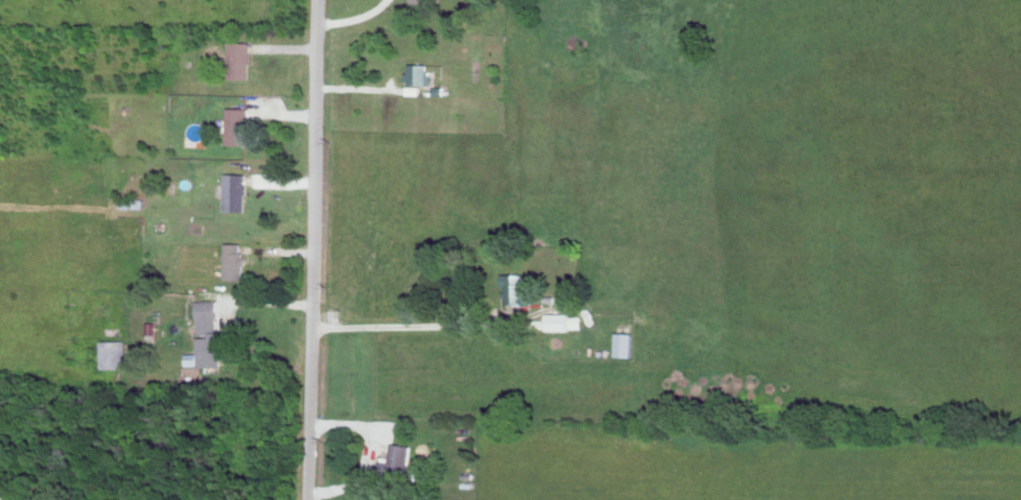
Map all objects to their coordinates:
building: (418, 1)
building: (239, 60)
building: (417, 74)
building: (237, 125)
building: (235, 191)
railway: (298, 250)
road: (311, 250)
building: (234, 260)
building: (515, 290)
building: (556, 321)
building: (574, 321)
road: (425, 329)
building: (208, 336)
building: (622, 344)
building: (114, 354)
building: (399, 462)

